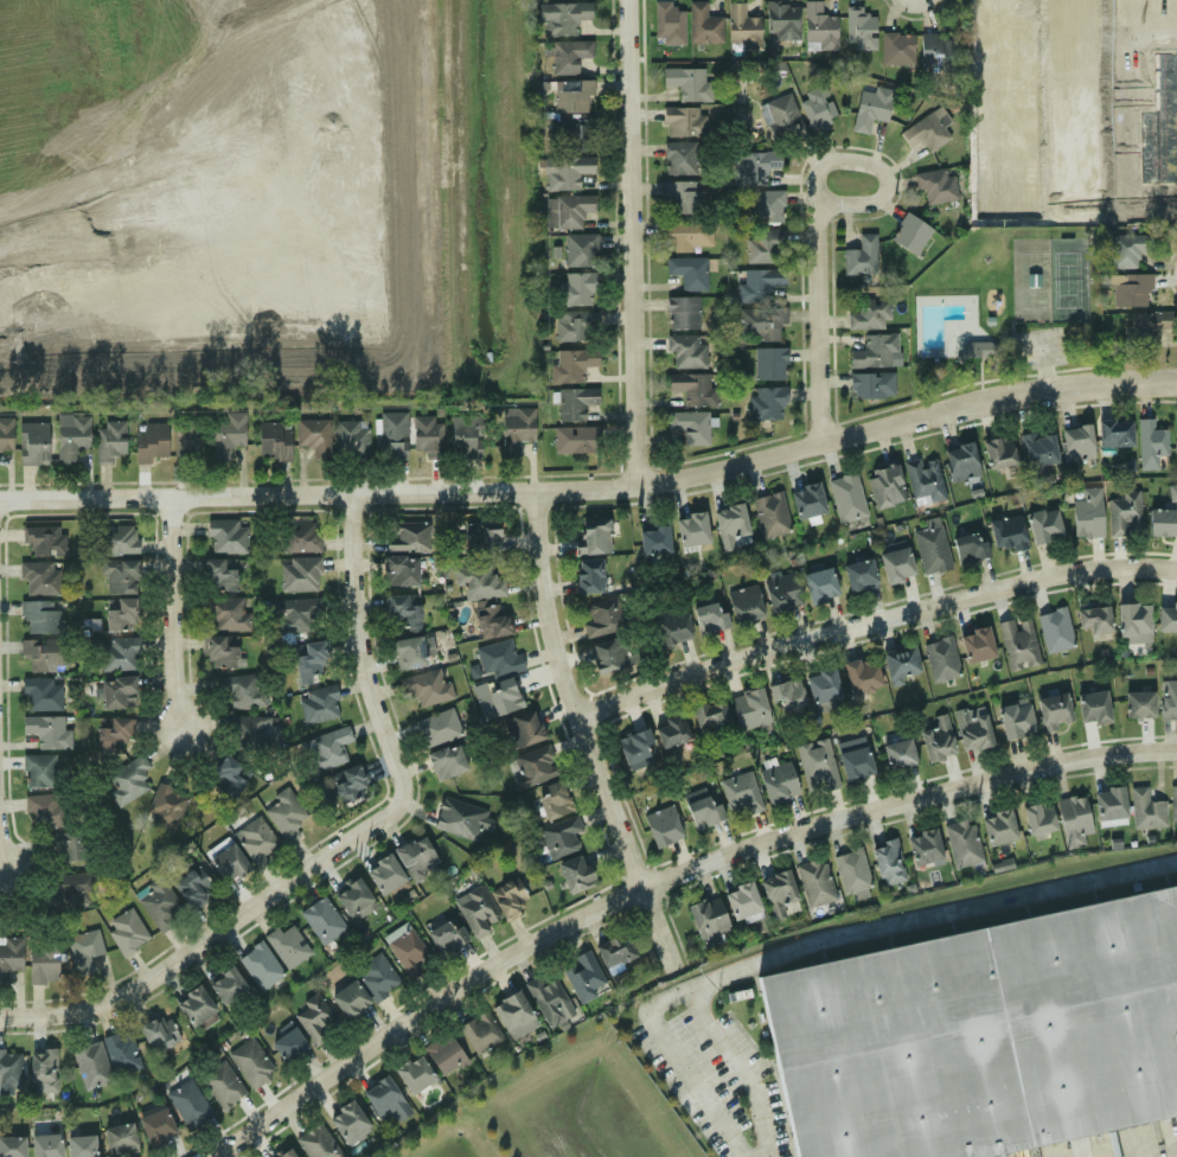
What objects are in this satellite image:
building: (563, 17)
building: (782, 21)
building: (667, 23)
building: (703, 25)
building: (742, 25)
building: (818, 26)
building: (861, 28)
building: (897, 47)
building: (935, 53)
building: (569, 55)
building: (687, 83)
building: (572, 96)
building: (815, 107)
building: (871, 107)
building: (781, 117)
building: (684, 121)
building: (930, 130)
building: (567, 134)
building: (679, 158)
building: (754, 167)
building: (565, 171)
building: (936, 186)
road: (832, 187)
building: (680, 197)
building: (767, 206)
building: (565, 210)
building: (689, 232)
building: (910, 234)
road: (634, 242)
building: (765, 247)
building: (577, 249)
building: (1126, 250)
building: (861, 256)
building: (689, 270)
building: (757, 283)
building: (576, 289)
building: (1130, 290)
road: (827, 292)
park: (1004, 309)
building: (682, 312)
building: (869, 314)
building: (761, 322)
building: (575, 325)
building: (1146, 328)
building: (686, 350)
building: (874, 351)
building: (979, 351)
building: (770, 363)
building: (571, 364)
building: (871, 384)
building: (693, 388)
building: (575, 402)
building: (767, 403)
building: (690, 426)
building: (516, 428)
building: (1115, 432)
building: (6, 434)
building: (427, 434)
building: (226, 435)
building: (313, 435)
building: (389, 435)
building: (71, 436)
building: (351, 439)
building: (185, 440)
building: (274, 440)
building: (466, 440)
building: (576, 440)
building: (110, 441)
building: (151, 441)
building: (33, 443)
building: (1150, 443)
building: (1077, 446)
building: (1040, 449)
building: (999, 453)
building: (961, 461)
building: (925, 480)
road: (594, 485)
building: (885, 486)
building: (1172, 492)
building: (846, 497)
building: (807, 500)
building: (1124, 512)
building: (1087, 513)
building: (770, 514)
building: (1162, 522)
building: (733, 525)
building: (1044, 525)
building: (692, 529)
building: (1008, 533)
building: (226, 536)
building: (481, 536)
building: (594, 536)
building: (299, 537)
building: (408, 537)
building: (116, 539)
building: (653, 539)
building: (43, 541)
building: (930, 546)
building: (971, 546)
building: (896, 563)
building: (399, 570)
building: (223, 573)
building: (299, 574)
building: (859, 575)
building: (39, 576)
building: (121, 576)
building: (589, 576)
building: (482, 582)
building: (820, 584)
building: (783, 592)
building: (746, 605)
building: (225, 612)
building: (402, 613)
building: (294, 614)
building: (122, 615)
building: (39, 616)
building: (710, 616)
building: (602, 618)
building: (1168, 618)
road: (180, 619)
building: (492, 620)
building: (1095, 620)
road: (876, 621)
building: (1134, 622)
building: (674, 627)
building: (1055, 629)
building: (1018, 643)
building: (977, 645)
building: (119, 653)
building: (219, 653)
building: (408, 653)
building: (44, 654)
building: (608, 654)
building: (498, 658)
building: (941, 659)
building: (311, 663)
building: (901, 663)
building: (862, 675)
building: (823, 685)
building: (427, 686)
building: (242, 689)
road: (577, 690)
building: (119, 692)
road: (383, 692)
building: (41, 693)
building: (786, 693)
building: (1169, 697)
building: (498, 698)
building: (318, 704)
building: (1139, 704)
building: (1094, 708)
building: (750, 709)
building: (1054, 711)
building: (710, 716)
building: (1017, 721)
building: (437, 727)
building: (973, 728)
building: (522, 729)
building: (47, 730)
building: (250, 731)
building: (671, 731)
building: (114, 734)
building: (938, 740)
building: (637, 746)
building: (327, 748)
building: (898, 754)
building: (447, 761)
building: (856, 762)
building: (532, 766)
building: (817, 766)
building: (39, 771)
building: (226, 771)
building: (128, 780)
building: (779, 782)
building: (347, 784)
road: (2, 790)
building: (742, 791)
building: (552, 799)
building: (1173, 801)
building: (1109, 805)
building: (166, 806)
building: (702, 807)
building: (1145, 808)
building: (47, 811)
building: (286, 814)
building: (462, 819)
building: (1040, 819)
building: (1074, 819)
building: (663, 825)
building: (999, 827)
building: (559, 837)
building: (256, 839)
building: (962, 843)
building: (66, 846)
building: (925, 848)
building: (417, 856)
building: (887, 862)
building: (229, 863)
building: (1000, 865)
building: (851, 870)
building: (384, 874)
building: (576, 874)
road: (663, 880)
building: (815, 882)
building: (192, 887)
building: (71, 889)
building: (780, 894)
building: (510, 896)
building: (354, 900)
building: (743, 901)
building: (159, 903)
building: (476, 910)
road: (930, 913)
building: (708, 916)
building: (322, 920)
road: (666, 929)
building: (126, 931)
building: (446, 935)
building: (287, 945)
building: (83, 948)
building: (407, 951)
building: (615, 951)
building: (9, 955)
building: (44, 964)
road: (177, 965)
building: (260, 966)
building: (376, 976)
building: (584, 976)
building: (226, 985)
building: (351, 1001)
building: (549, 1001)
building: (194, 1006)
building: (512, 1011)
building: (314, 1017)
building: (480, 1031)
building: (158, 1034)
building: (980, 1035)
building: (289, 1044)
road: (664, 1046)
building: (121, 1051)
building: (444, 1053)
building: (251, 1062)
building: (91, 1065)
building: (9, 1068)
building: (43, 1069)
building: (414, 1072)
road: (742, 1072)
building: (222, 1084)
building: (385, 1099)
building: (188, 1104)
building: (348, 1121)
building: (156, 1126)
building: (120, 1138)
building: (316, 1143)
building: (46, 1145)
building: (12, 1146)
building: (81, 1146)
building: (283, 1152)
road: (1176, 1156)

